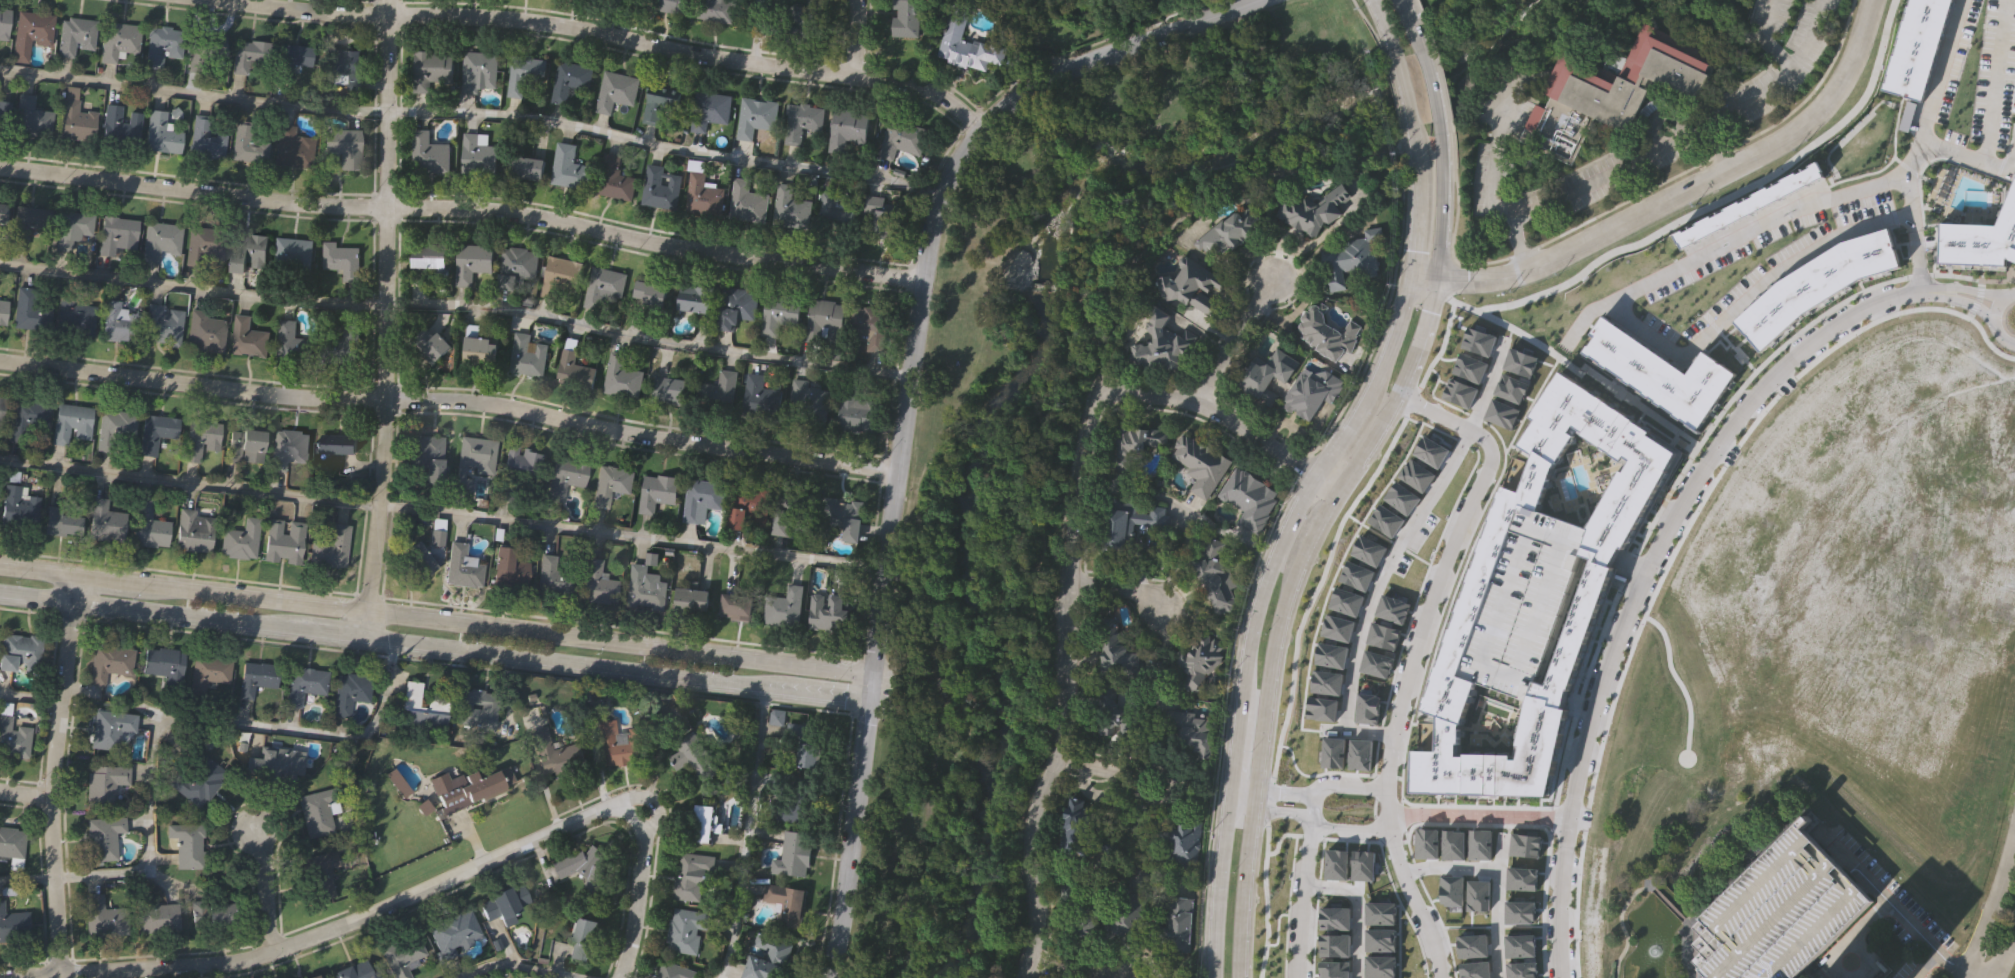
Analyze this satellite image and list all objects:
building: (635, 1)
building: (668, 5)
building: (715, 10)
road: (1209, 14)
building: (906, 18)
road: (1410, 21)
building: (4, 23)
road: (1384, 24)
building: (800, 26)
road: (756, 30)
road: (1806, 34)
building: (31, 35)
building: (75, 36)
road: (637, 37)
road: (855, 37)
road: (1145, 38)
road: (1761, 38)
building: (119, 42)
building: (963, 42)
building: (162, 46)
building: (1914, 48)
road: (2000, 50)
building: (203, 51)
building: (251, 55)
building: (292, 60)
building: (343, 69)
building: (431, 71)
building: (476, 72)
road: (1934, 73)
building: (522, 74)
building: (567, 81)
road: (1432, 86)
building: (1610, 89)
building: (614, 91)
road: (1405, 92)
road: (1749, 97)
building: (657, 103)
building: (707, 111)
road: (473, 113)
building: (4, 115)
building: (30, 117)
building: (754, 117)
building: (75, 118)
building: (799, 122)
building: (119, 126)
road: (1397, 126)
building: (847, 130)
building: (159, 134)
building: (901, 139)
building: (205, 140)
building: (250, 142)
building: (293, 149)
building: (343, 150)
building: (428, 154)
building: (477, 154)
road: (1627, 160)
building: (526, 168)
building: (568, 168)
road: (2004, 171)
building: (612, 178)
road: (1489, 184)
building: (659, 187)
road: (1676, 193)
building: (702, 195)
road: (1416, 201)
building: (747, 203)
building: (834, 205)
building: (1749, 205)
road: (464, 207)
building: (788, 208)
building: (1316, 209)
building: (3, 212)
building: (879, 215)
road: (1782, 220)
building: (27, 223)
building: (72, 229)
building: (1230, 230)
road: (1912, 233)
building: (117, 235)
building: (1979, 240)
building: (160, 242)
road: (1398, 246)
building: (203, 248)
building: (247, 252)
road: (1802, 255)
building: (427, 256)
building: (293, 257)
building: (1352, 257)
building: (341, 261)
building: (470, 262)
building: (516, 268)
building: (559, 276)
building: (1192, 283)
building: (1817, 284)
building: (602, 287)
road: (1940, 292)
building: (648, 294)
building: (693, 298)
road: (457, 304)
building: (735, 307)
building: (29, 308)
building: (2, 312)
building: (778, 314)
building: (75, 317)
road: (1993, 317)
road: (387, 318)
building: (821, 319)
building: (118, 323)
building: (161, 325)
building: (869, 327)
building: (1329, 332)
building: (204, 333)
building: (247, 339)
building: (290, 343)
building: (430, 343)
building: (1164, 343)
road: (1233, 343)
building: (340, 346)
building: (479, 351)
building: (527, 356)
building: (573, 371)
building: (1660, 373)
building: (1268, 374)
building: (620, 378)
building: (717, 388)
building: (668, 391)
building: (1314, 391)
road: (451, 398)
building: (759, 398)
building: (807, 403)
building: (1, 408)
building: (853, 412)
building: (27, 422)
building: (70, 423)
building: (115, 432)
building: (155, 433)
park: (1049, 438)
building: (200, 439)
building: (1137, 442)
building: (337, 444)
building: (244, 447)
road: (1045, 448)
building: (286, 449)
building: (425, 455)
building: (473, 461)
building: (523, 463)
building: (1202, 463)
road: (1353, 464)
road: (900, 466)
building: (566, 476)
building: (609, 484)
building: (656, 492)
building: (1250, 497)
building: (700, 498)
road: (1686, 500)
building: (17, 507)
building: (746, 508)
building: (793, 512)
road: (443, 514)
building: (842, 518)
building: (62, 521)
building: (105, 522)
building: (1132, 522)
road: (1288, 525)
building: (148, 526)
building: (193, 531)
building: (437, 532)
building: (241, 540)
building: (284, 542)
building: (330, 548)
road: (1396, 550)
road: (1072, 557)
building: (417, 560)
road: (1584, 564)
building: (461, 567)
building: (508, 570)
road: (1600, 570)
road: (1444, 572)
building: (1217, 575)
building: (551, 577)
road: (1626, 580)
building: (597, 583)
building: (1594, 584)
road: (1121, 586)
building: (643, 588)
road: (77, 589)
building: (689, 601)
building: (1522, 605)
parking garage: (1522, 605)
building: (734, 607)
building: (782, 607)
building: (827, 612)
road: (436, 615)
road: (434, 643)
building: (19, 651)
building: (1120, 651)
building: (1200, 659)
building: (163, 662)
building: (110, 663)
building: (208, 673)
building: (255, 678)
road: (1159, 682)
building: (306, 684)
building: (349, 693)
parking lot: (895, 695)
road: (30, 697)
building: (422, 709)
building: (1119, 709)
building: (476, 710)
road: (161, 714)
building: (1193, 727)
building: (111, 729)
building: (13, 739)
building: (621, 745)
building: (554, 755)
building: (807, 755)
building: (698, 756)
building: (274, 766)
road: (1104, 769)
building: (198, 780)
building: (104, 784)
building: (469, 786)
road: (51, 789)
road: (1311, 790)
road: (25, 794)
building: (795, 799)
building: (317, 813)
road: (1482, 816)
road: (1311, 818)
road: (1395, 822)
building: (703, 824)
building: (1084, 830)
road: (746, 832)
building: (103, 838)
building: (11, 842)
building: (1182, 844)
building: (187, 845)
building: (794, 853)
road: (1840, 859)
building: (577, 861)
road: (1453, 867)
building: (319, 875)
building: (693, 877)
road: (1309, 882)
road: (1243, 887)
road: (266, 890)
road: (1218, 890)
road: (1874, 890)
road: (638, 894)
road: (1564, 898)
building: (509, 902)
building: (785, 903)
road: (1421, 904)
road: (1500, 907)
road: (1361, 909)
building: (1082, 911)
building: (1778, 912)
parking garage: (1778, 912)
building: (209, 914)
road: (1992, 914)
building: (1127, 915)
building: (1335, 917)
building: (103, 918)
building: (156, 918)
building: (13, 921)
building: (1174, 922)
road: (324, 928)
building: (454, 931)
building: (685, 931)
building: (583, 940)
road: (887, 949)
road: (2004, 954)
building: (402, 956)
building: (764, 956)
road: (1943, 956)
road: (519, 966)
road: (1078, 967)
building: (1336, 969)
building: (359, 971)
building: (673, 971)
road: (851, 972)
building: (312, 976)
road: (864, 977)

